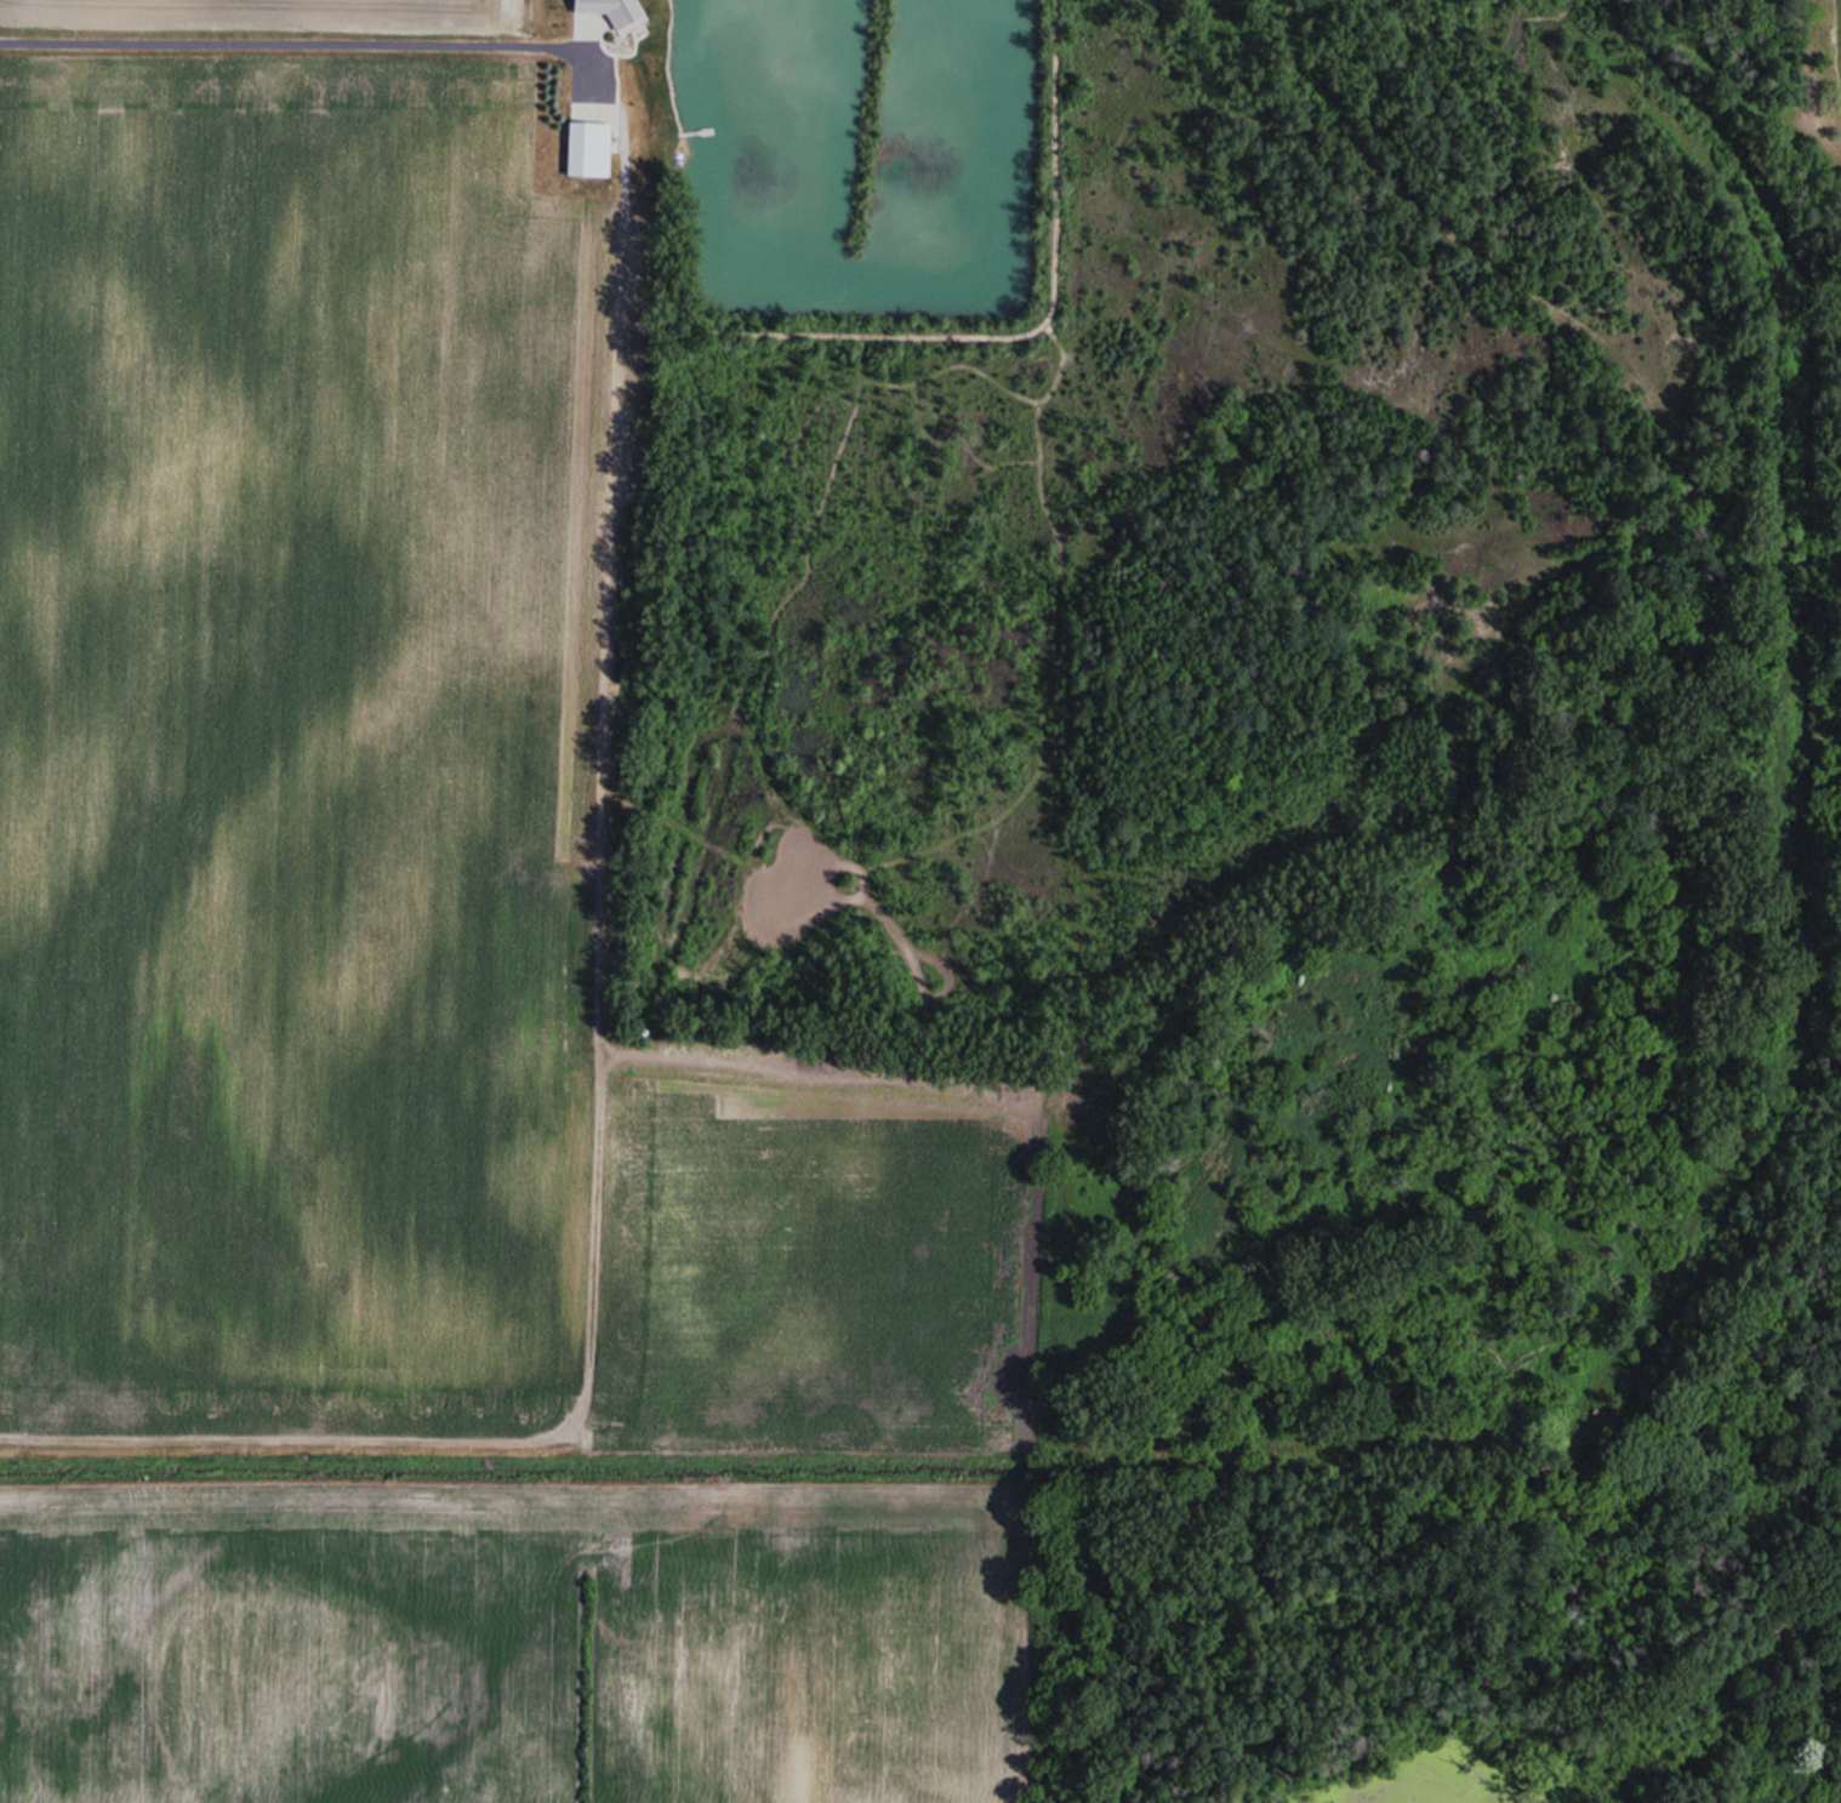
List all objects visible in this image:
road: (289, 51)
road: (1823, 74)

